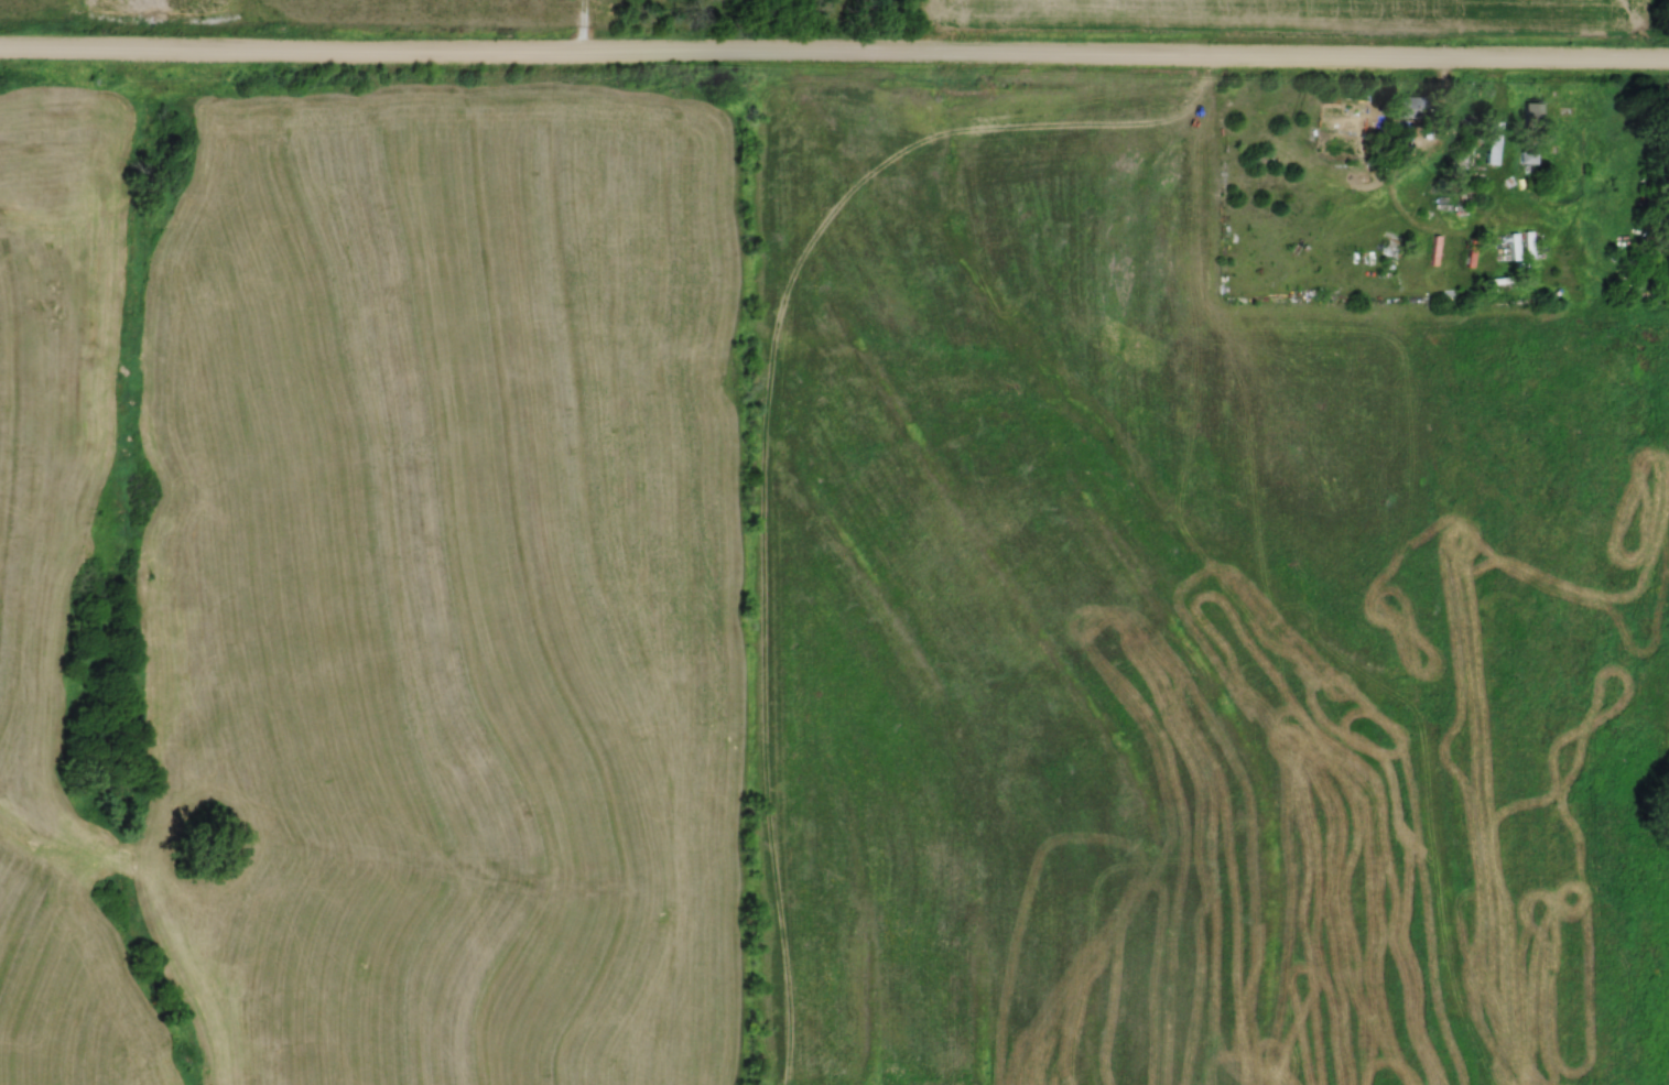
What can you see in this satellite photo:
road: (577, 30)
road: (924, 30)
road: (834, 59)
building: (1411, 107)
building: (1531, 113)
building: (1493, 142)
building: (1527, 158)

